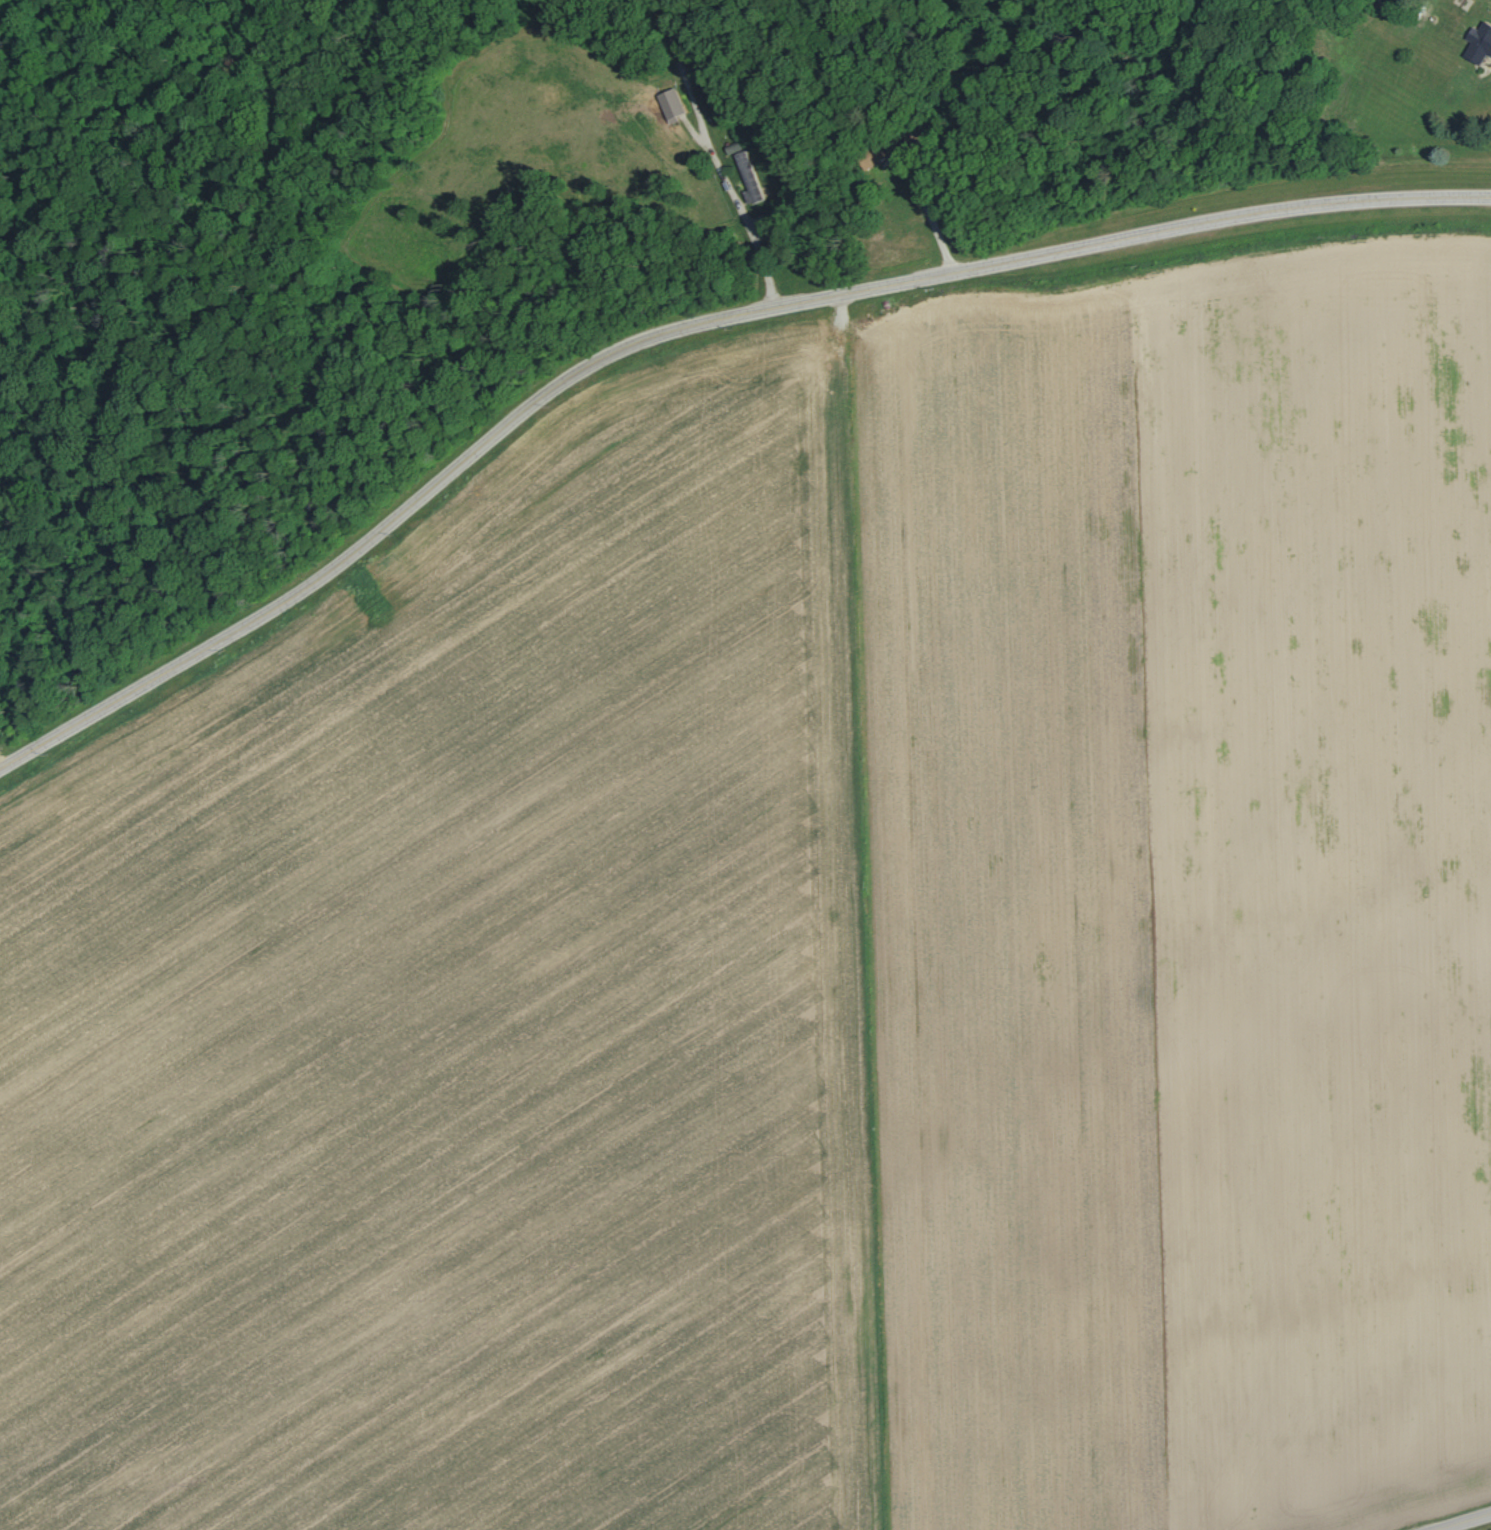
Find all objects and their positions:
building: (1477, 41)
building: (668, 104)
building: (746, 177)
road: (684, 325)
road: (1463, 1521)

